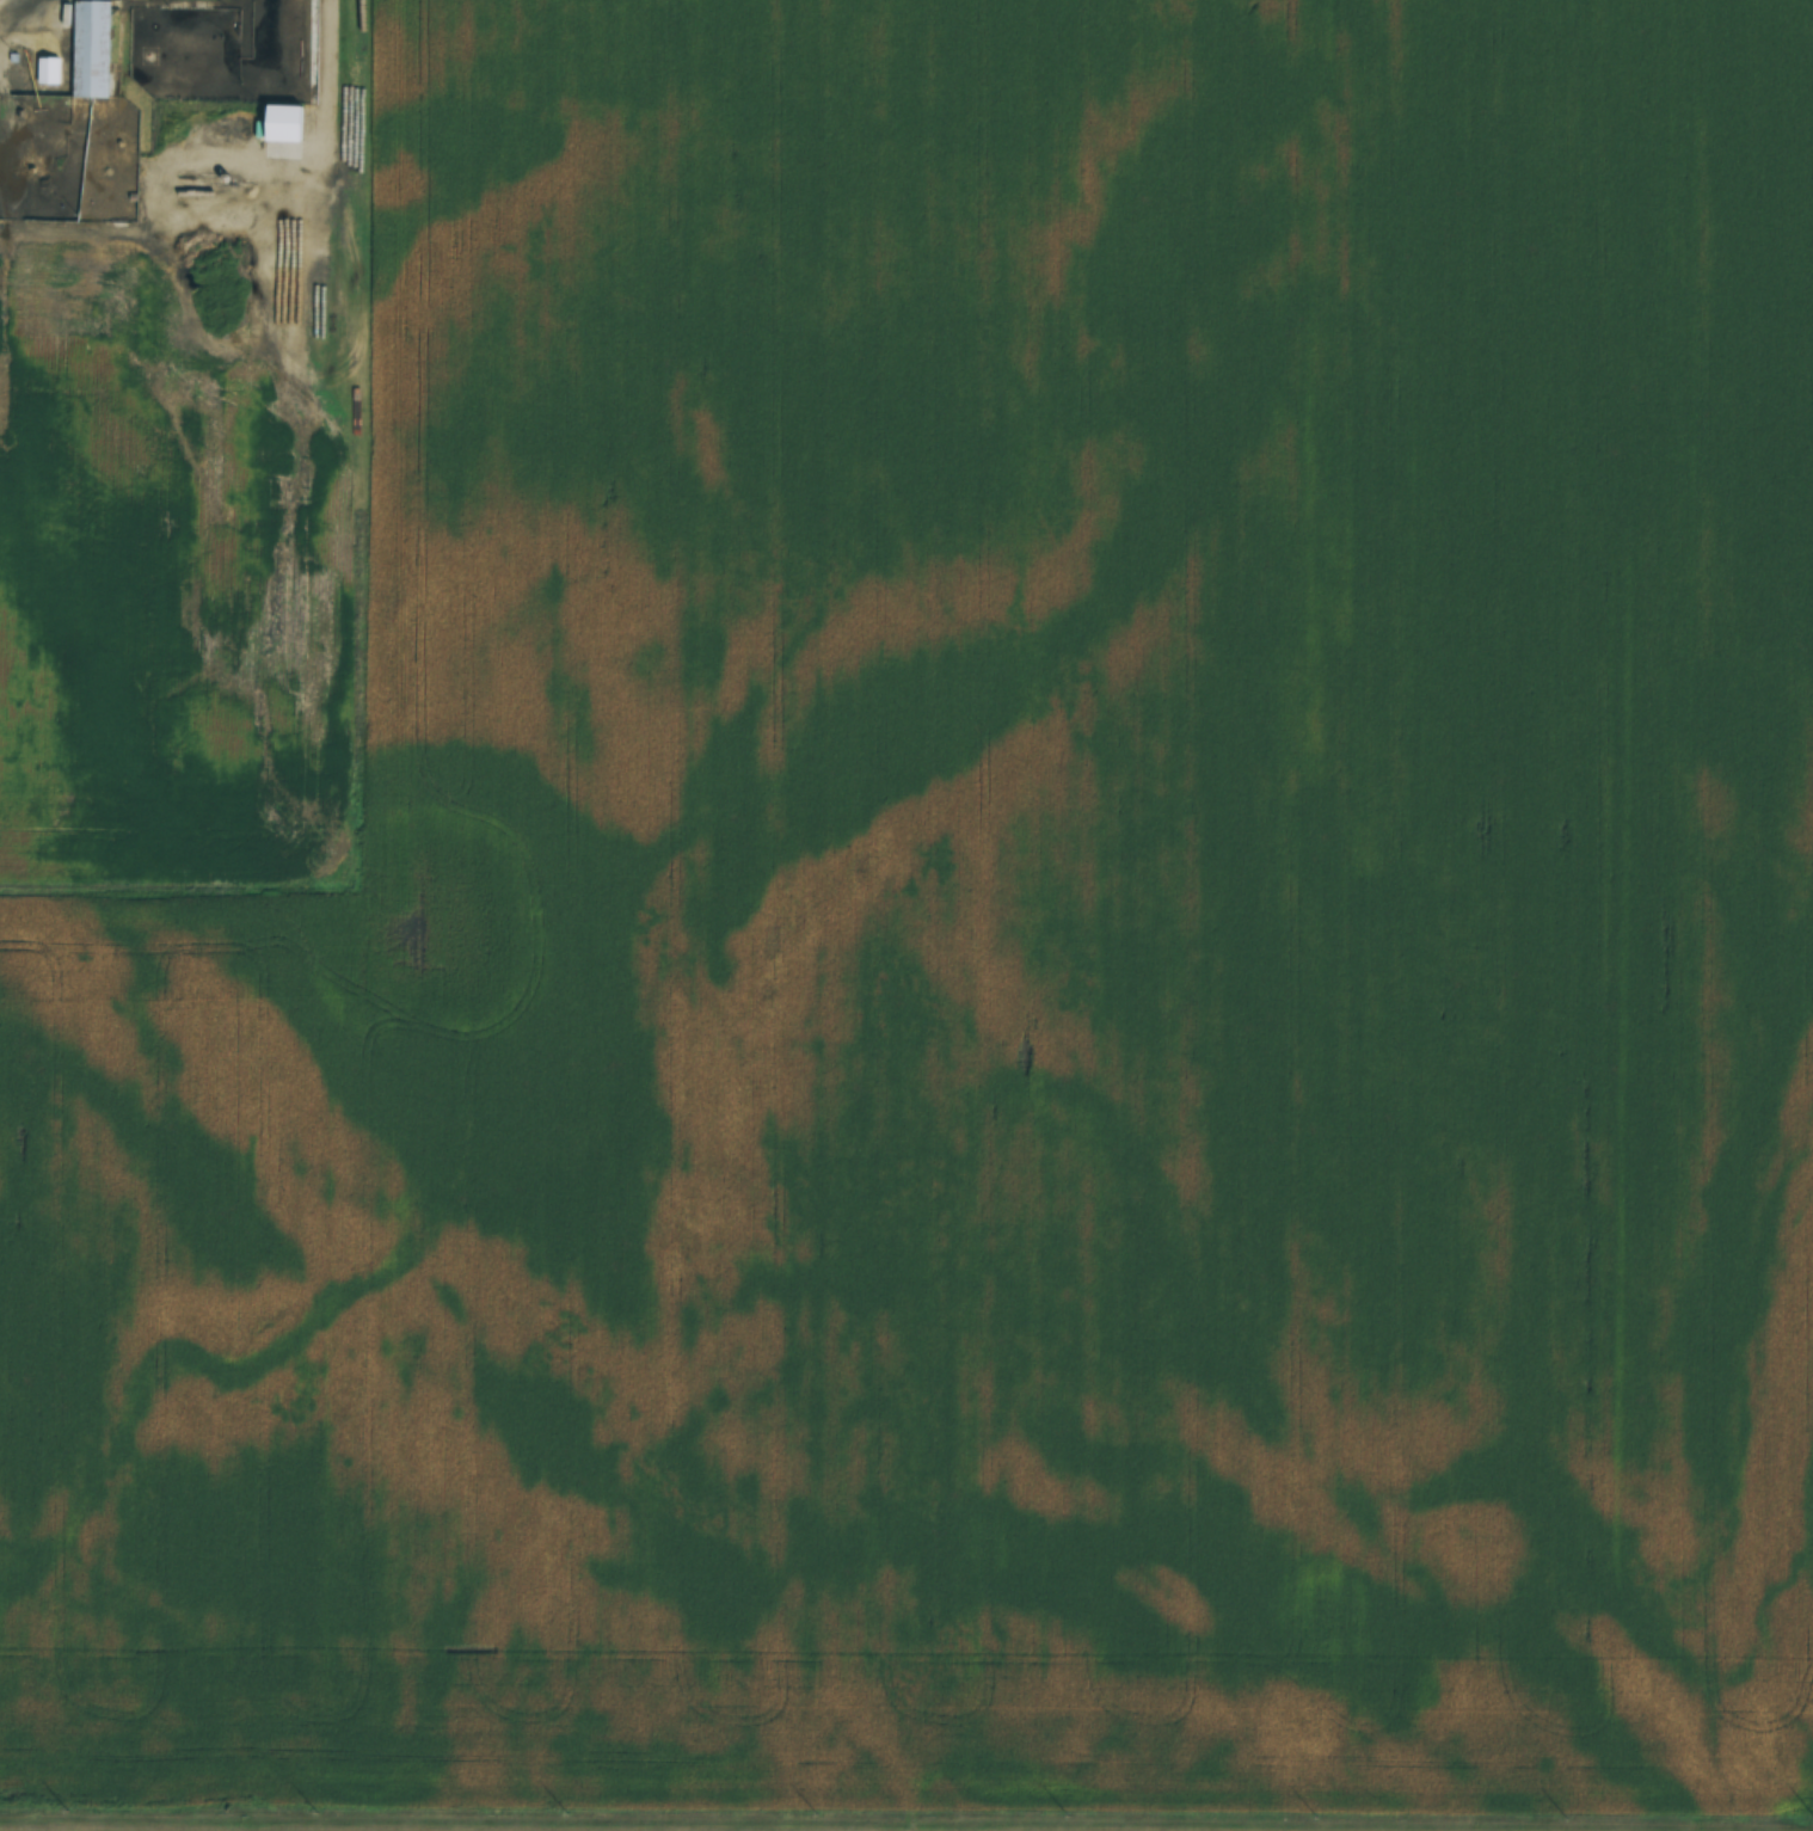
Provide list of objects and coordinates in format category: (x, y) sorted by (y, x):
building: (91, 50)
building: (48, 67)
building: (284, 119)
crop: (991, 945)
road: (915, 1823)

